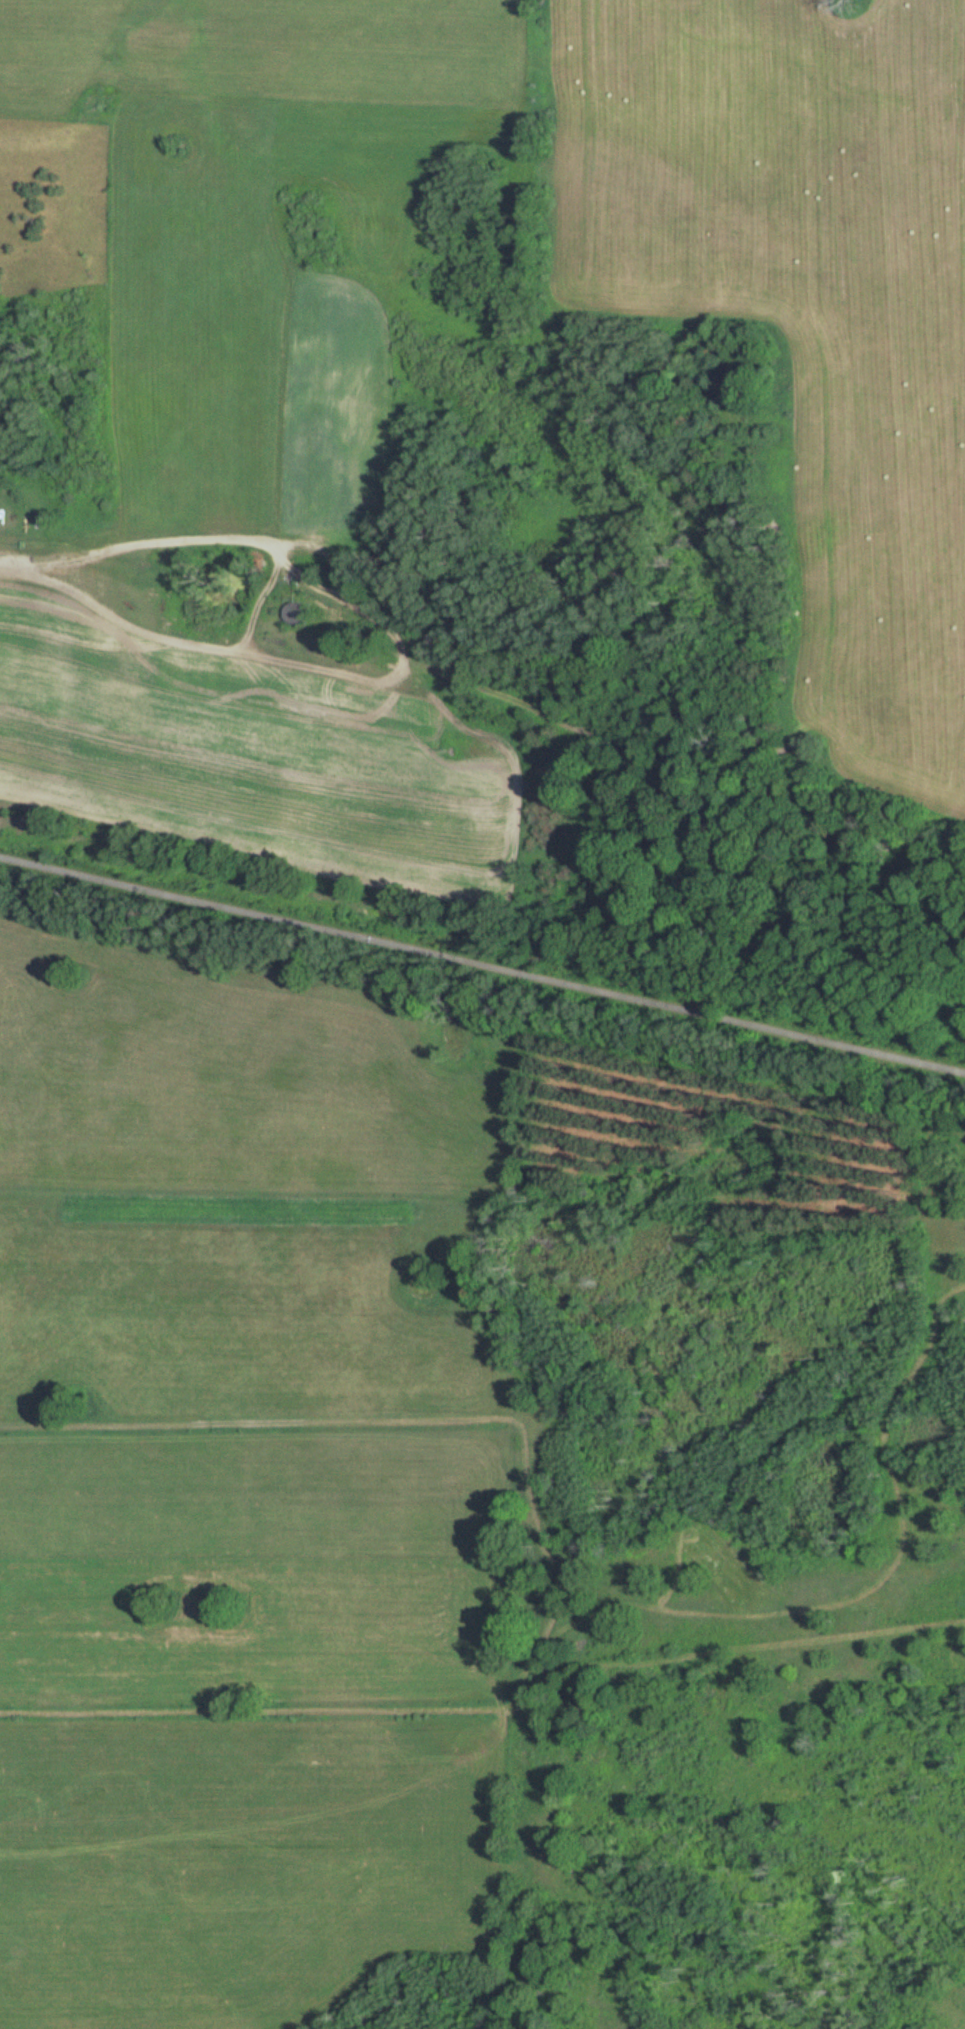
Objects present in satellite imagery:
road: (148, 542)
road: (53, 581)
road: (482, 964)
building: (230, 1603)

